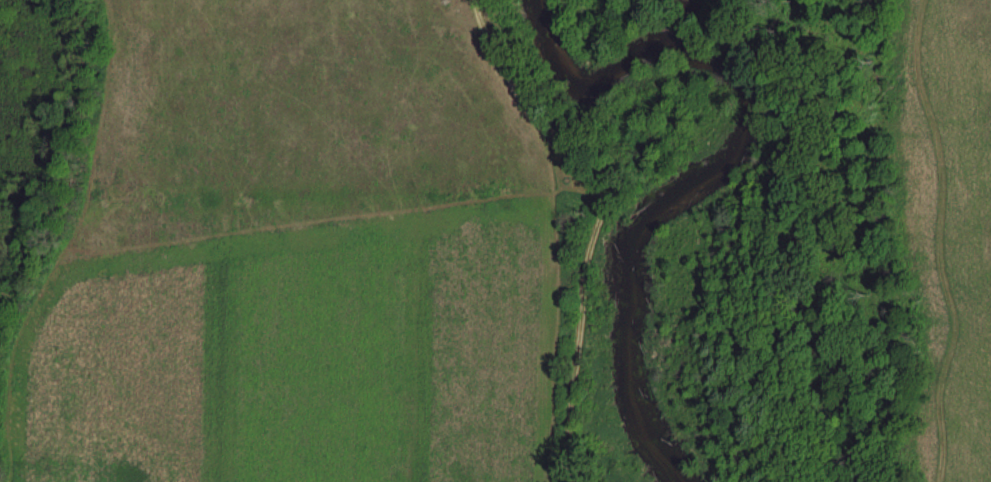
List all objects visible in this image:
river: (725, 158)

